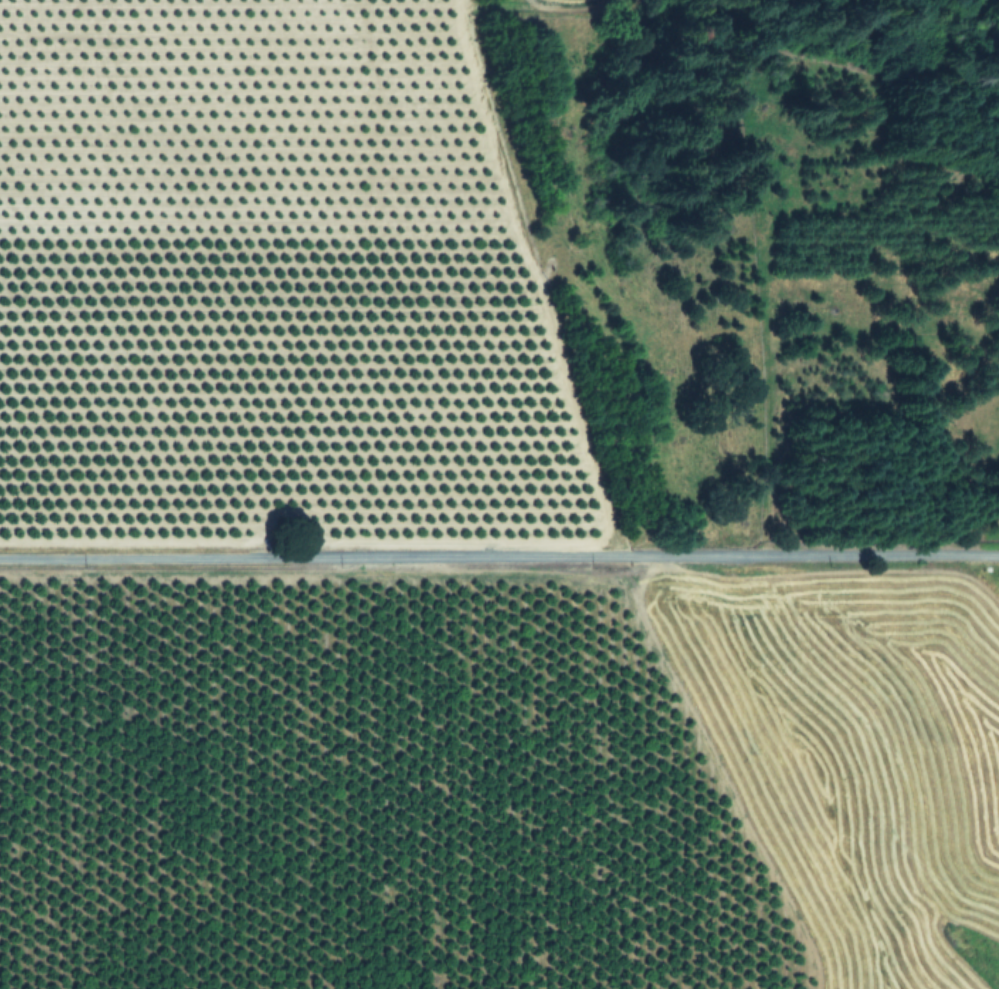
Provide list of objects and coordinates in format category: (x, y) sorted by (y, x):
road: (499, 552)
crop: (418, 553)

